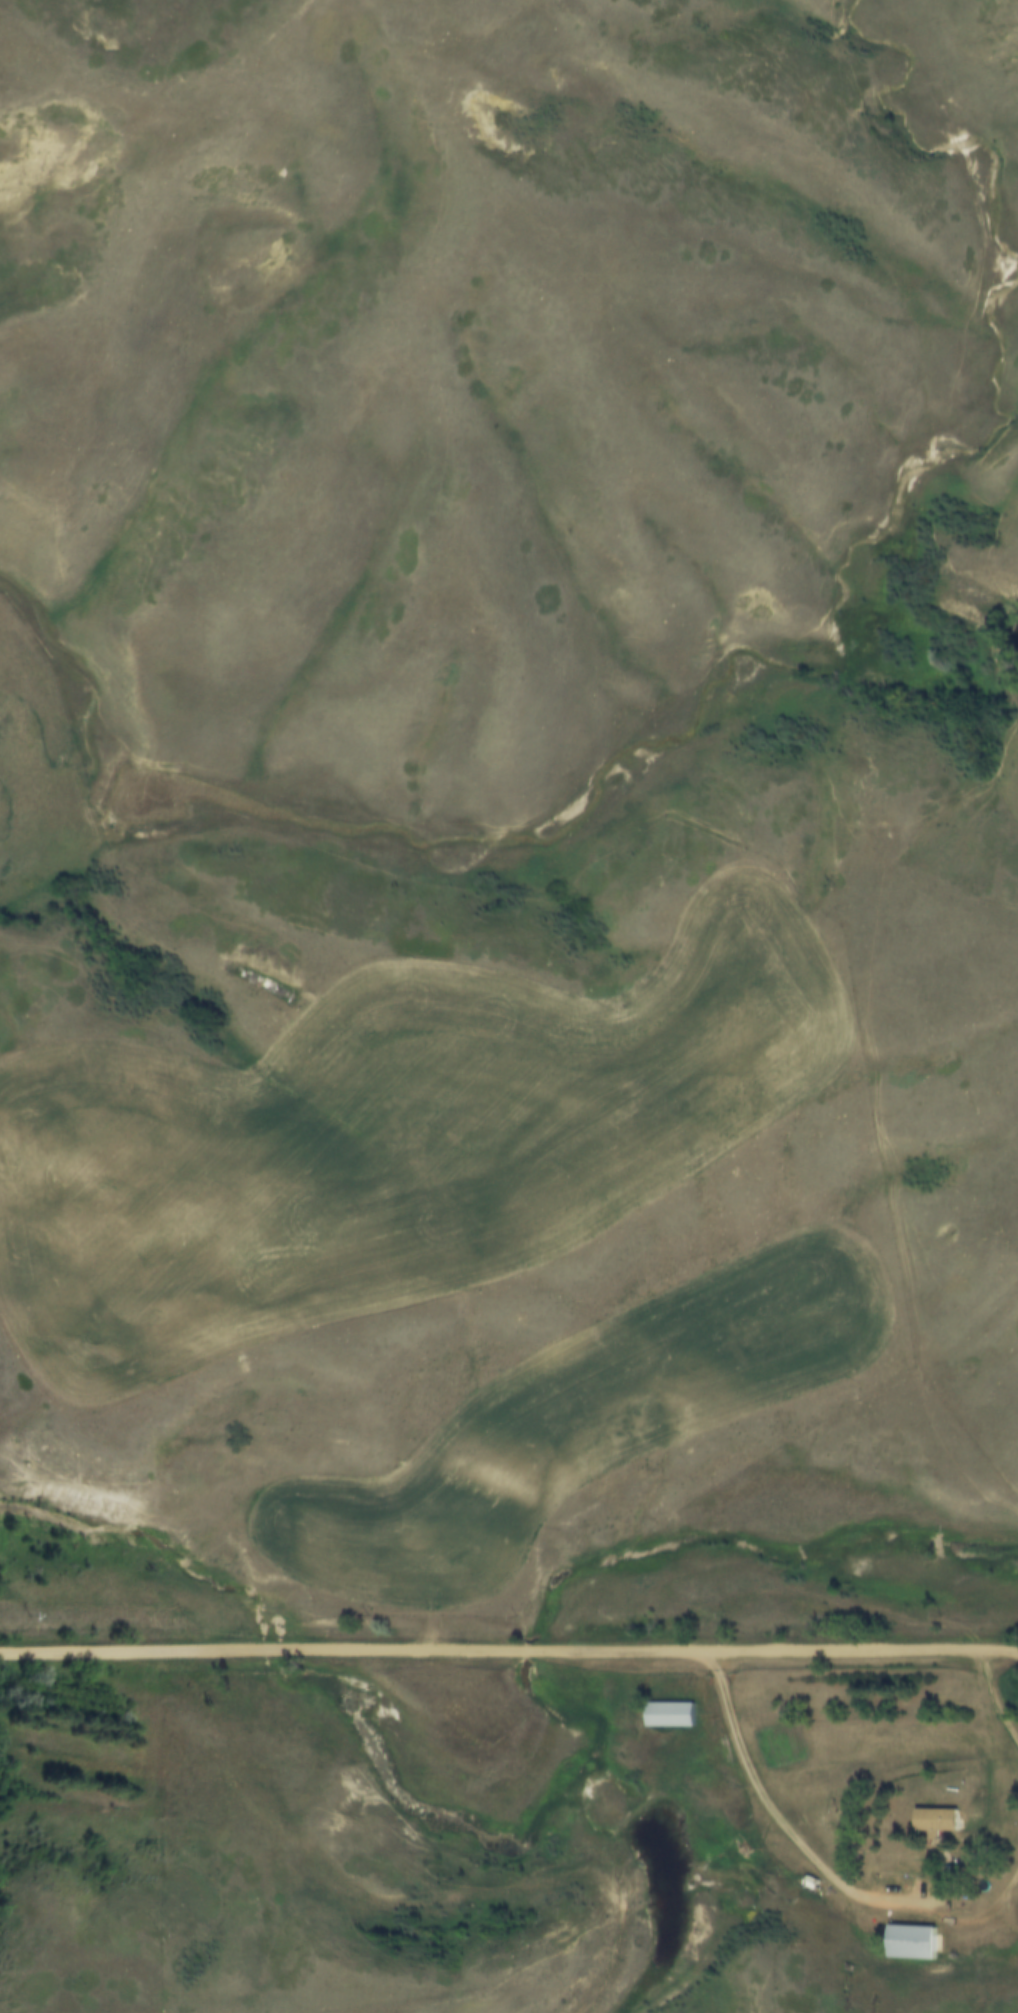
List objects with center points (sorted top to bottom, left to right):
road: (509, 1652)
road: (992, 1699)
building: (673, 1713)
building: (939, 1821)
road: (826, 1872)
building: (962, 1902)
building: (914, 1941)

